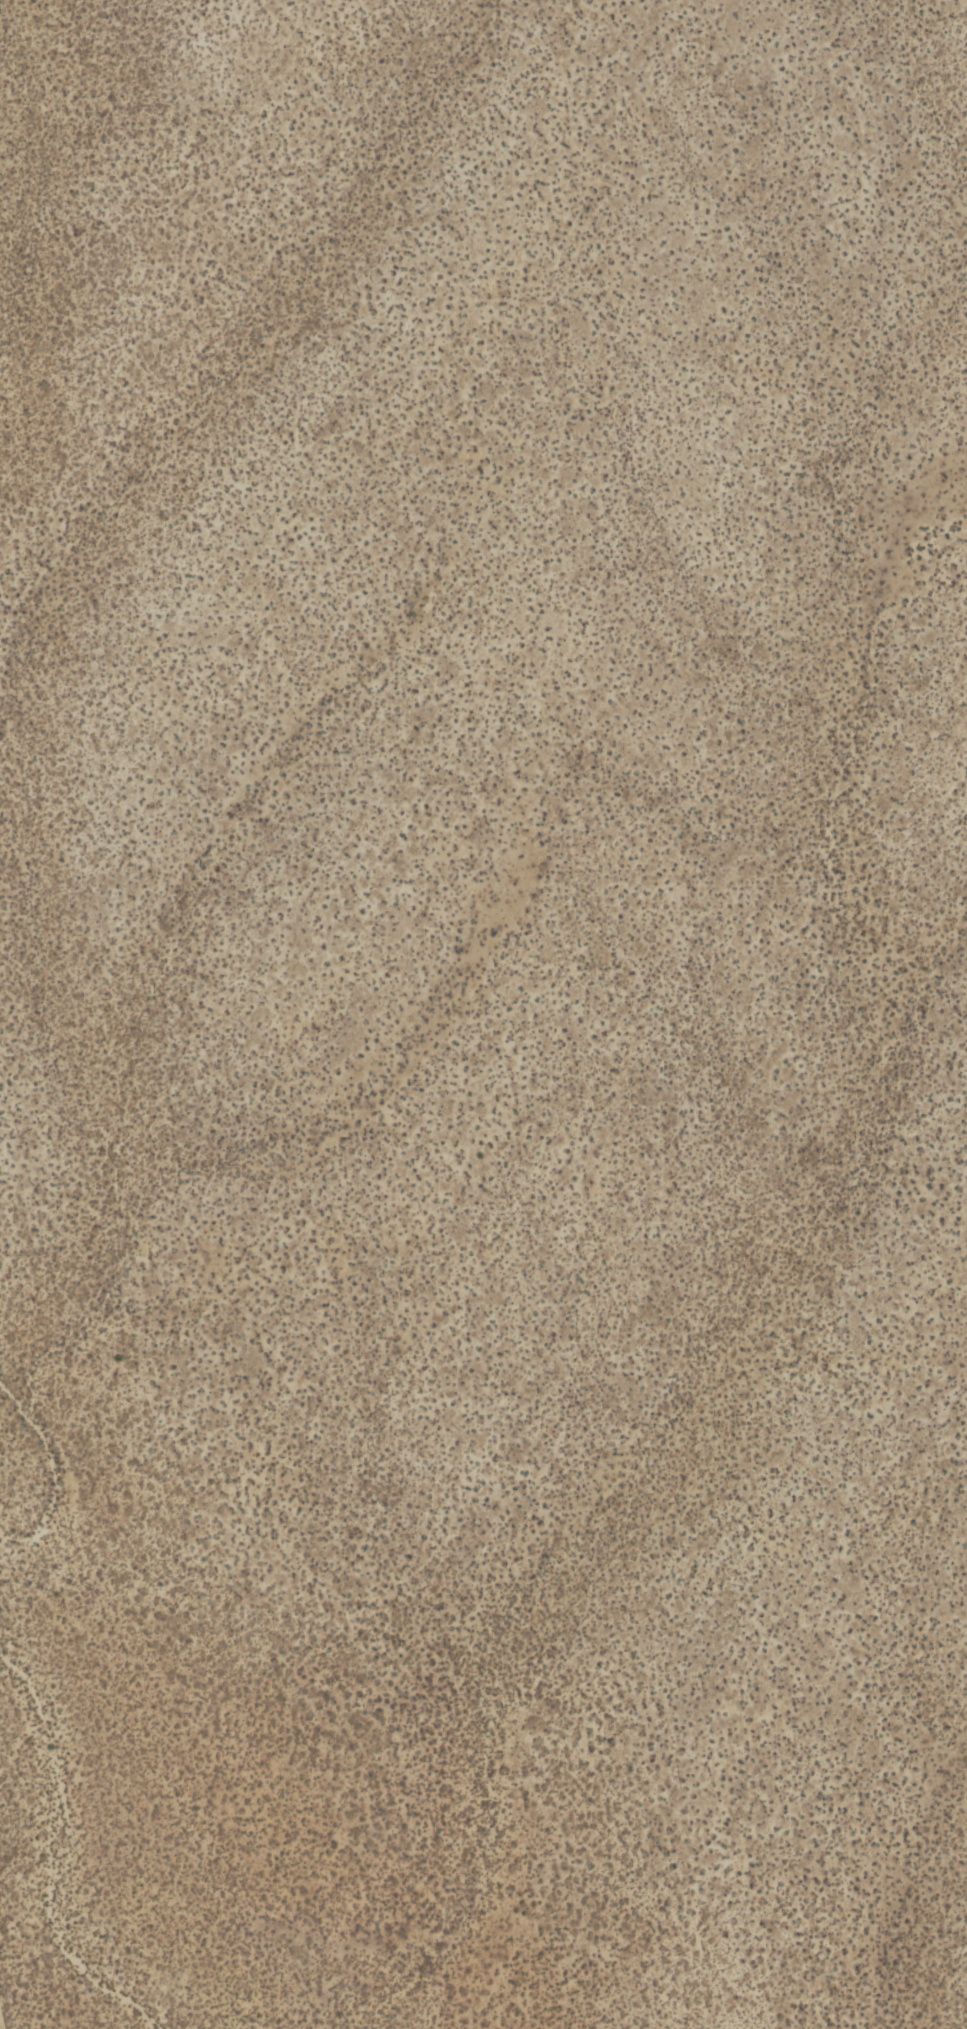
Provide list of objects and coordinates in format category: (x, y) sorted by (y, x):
road: (6, 2001)

